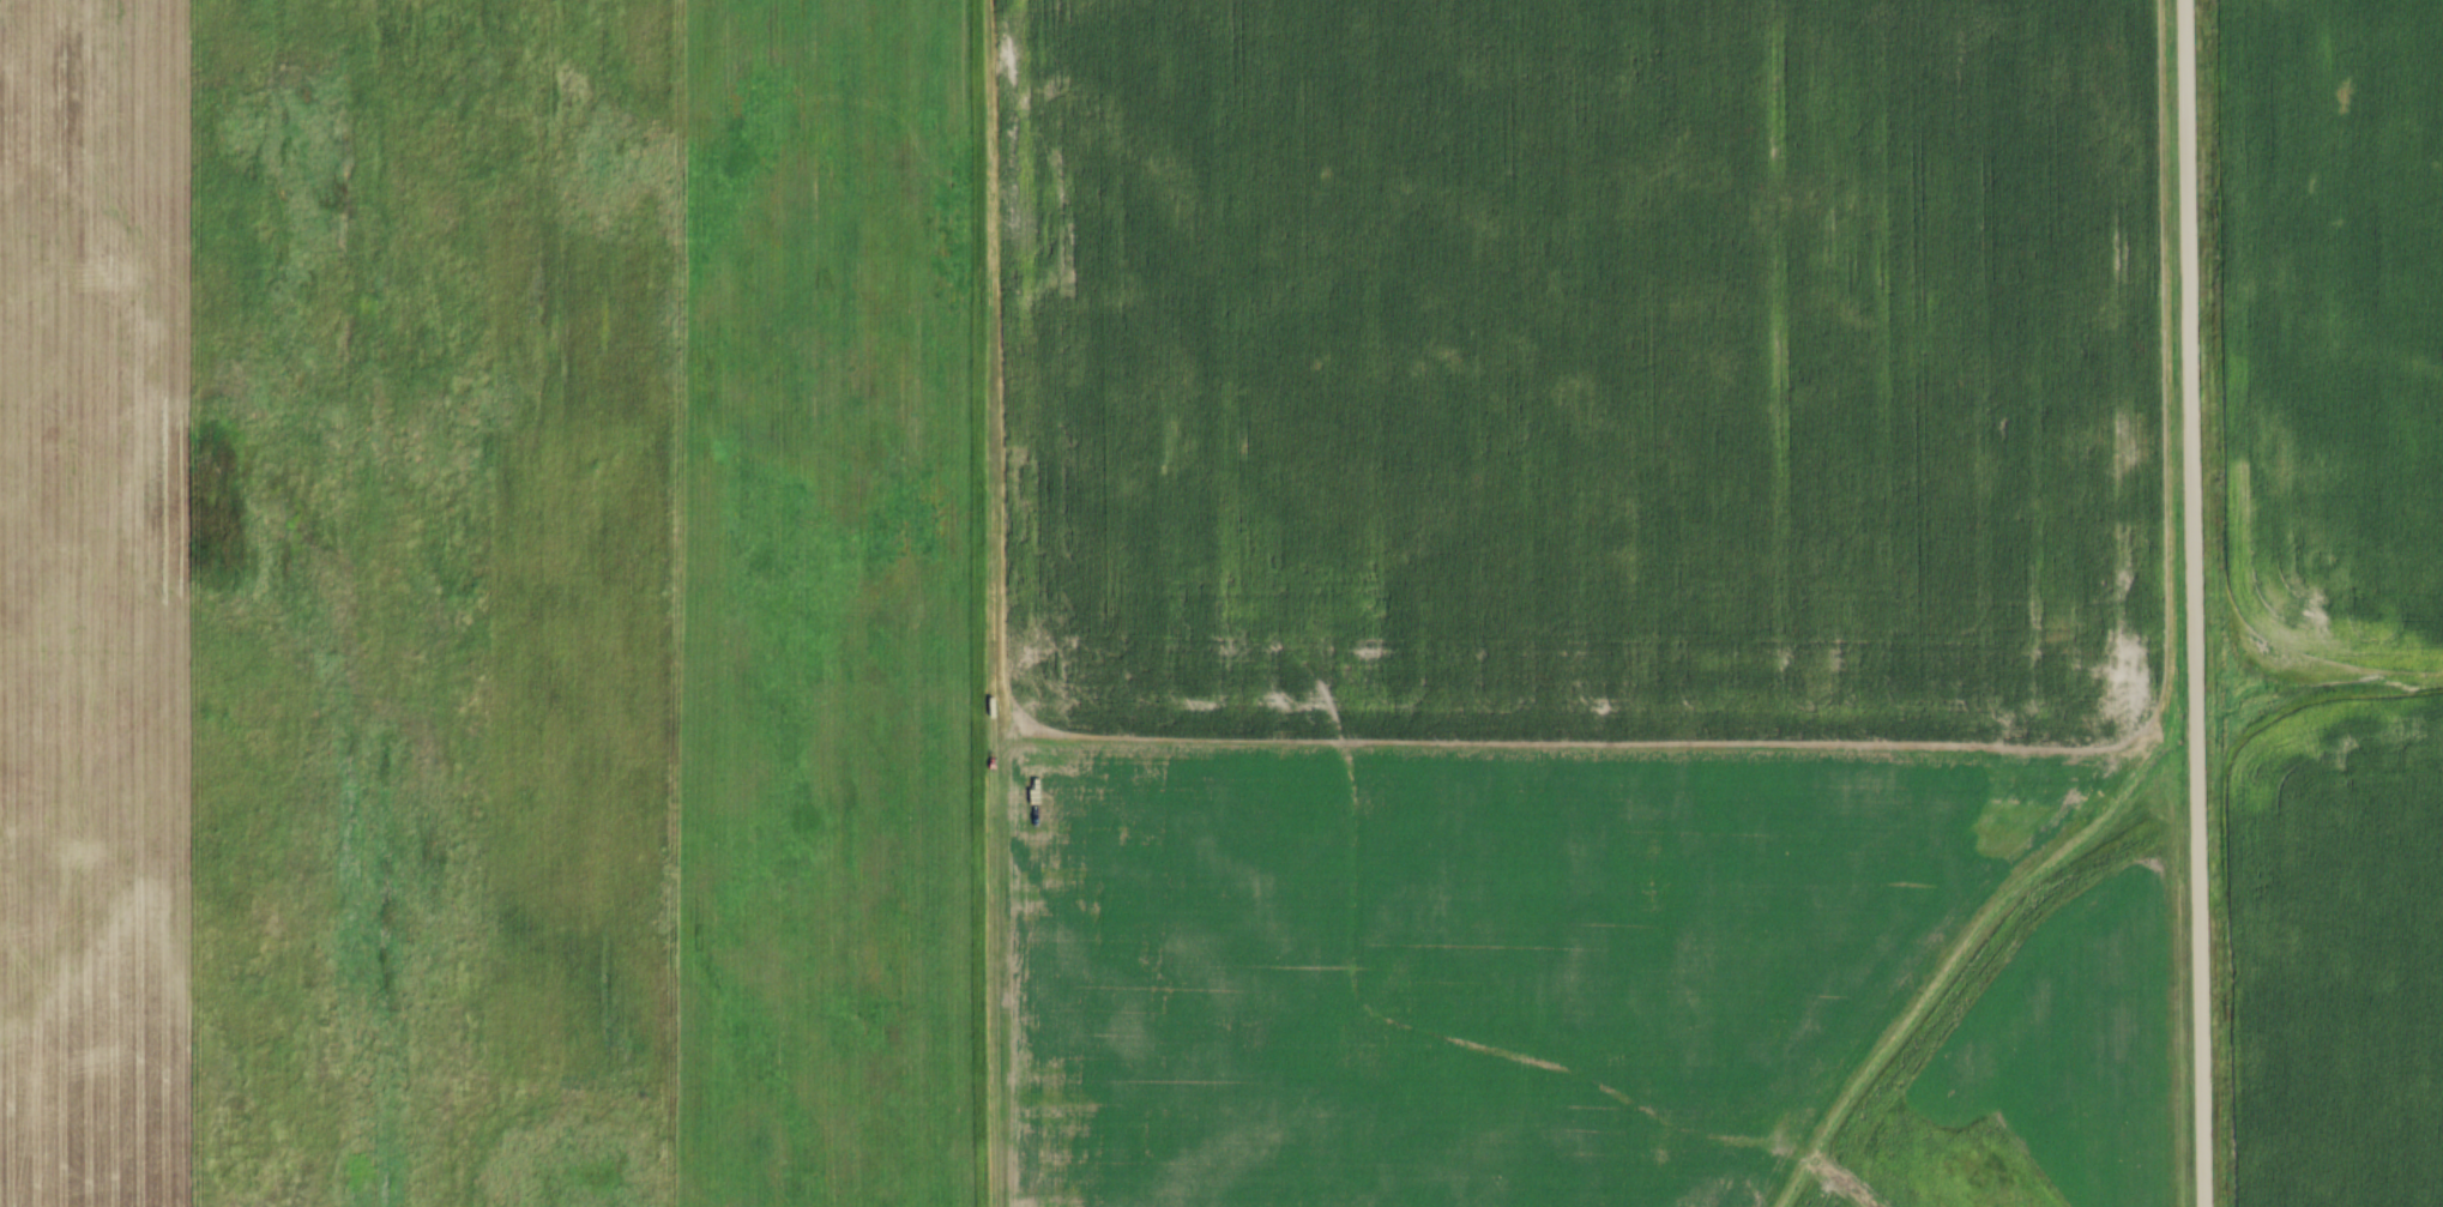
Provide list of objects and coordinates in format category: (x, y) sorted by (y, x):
road: (2189, 603)

